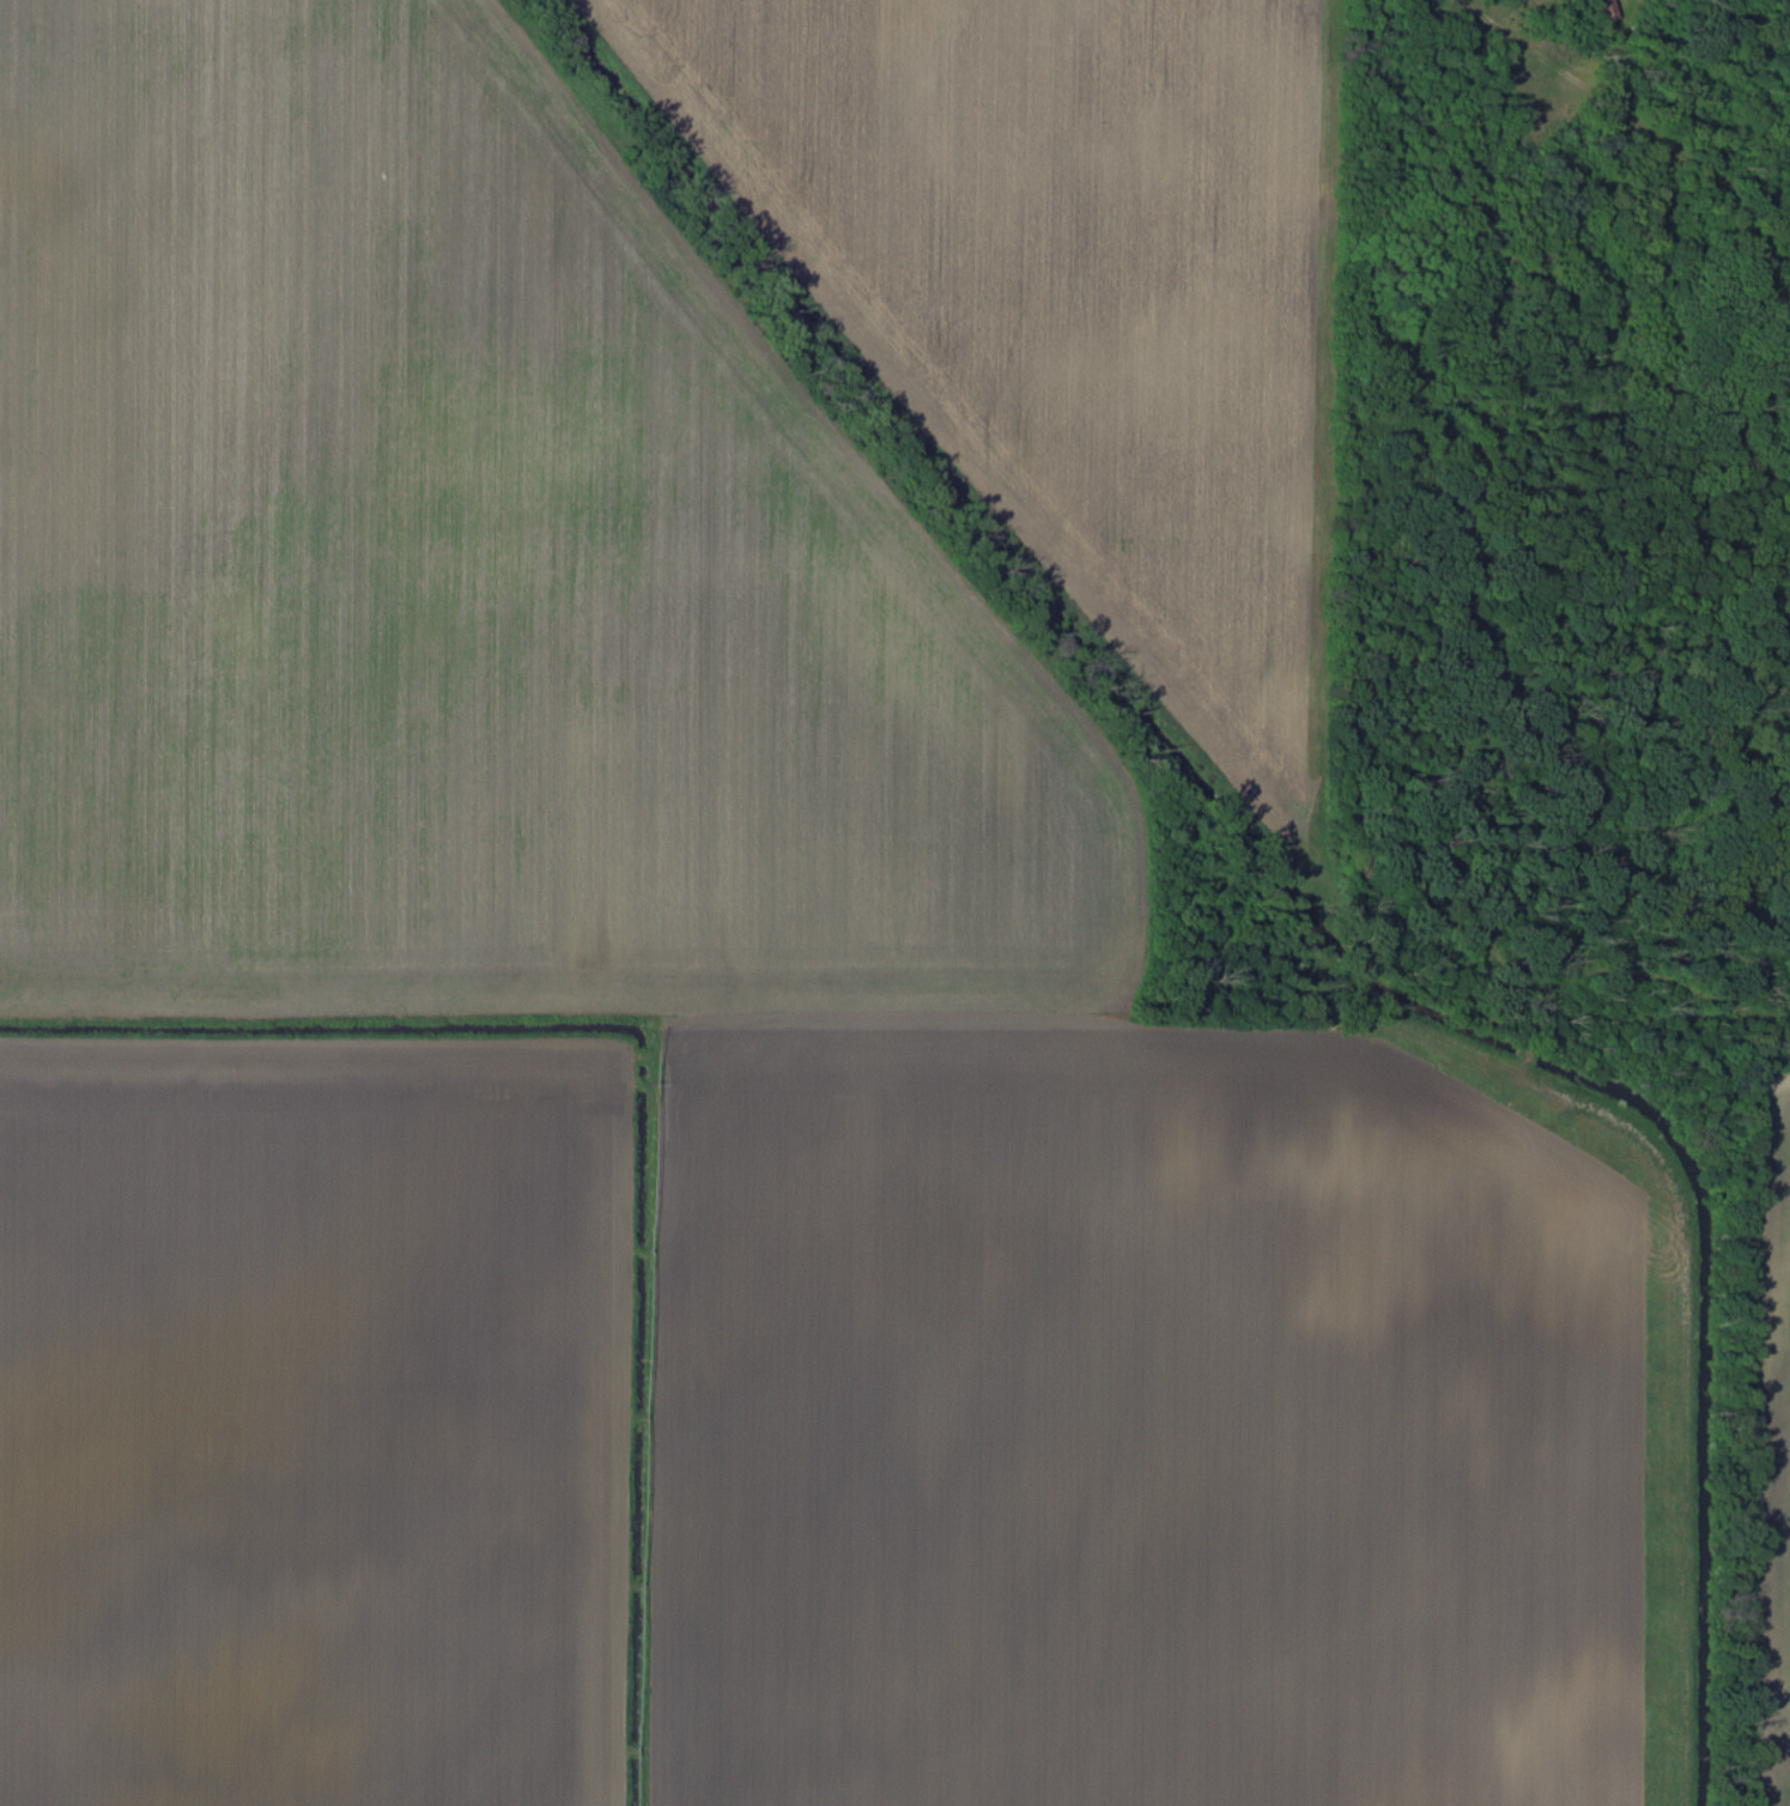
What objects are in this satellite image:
building: (1604, 10)

